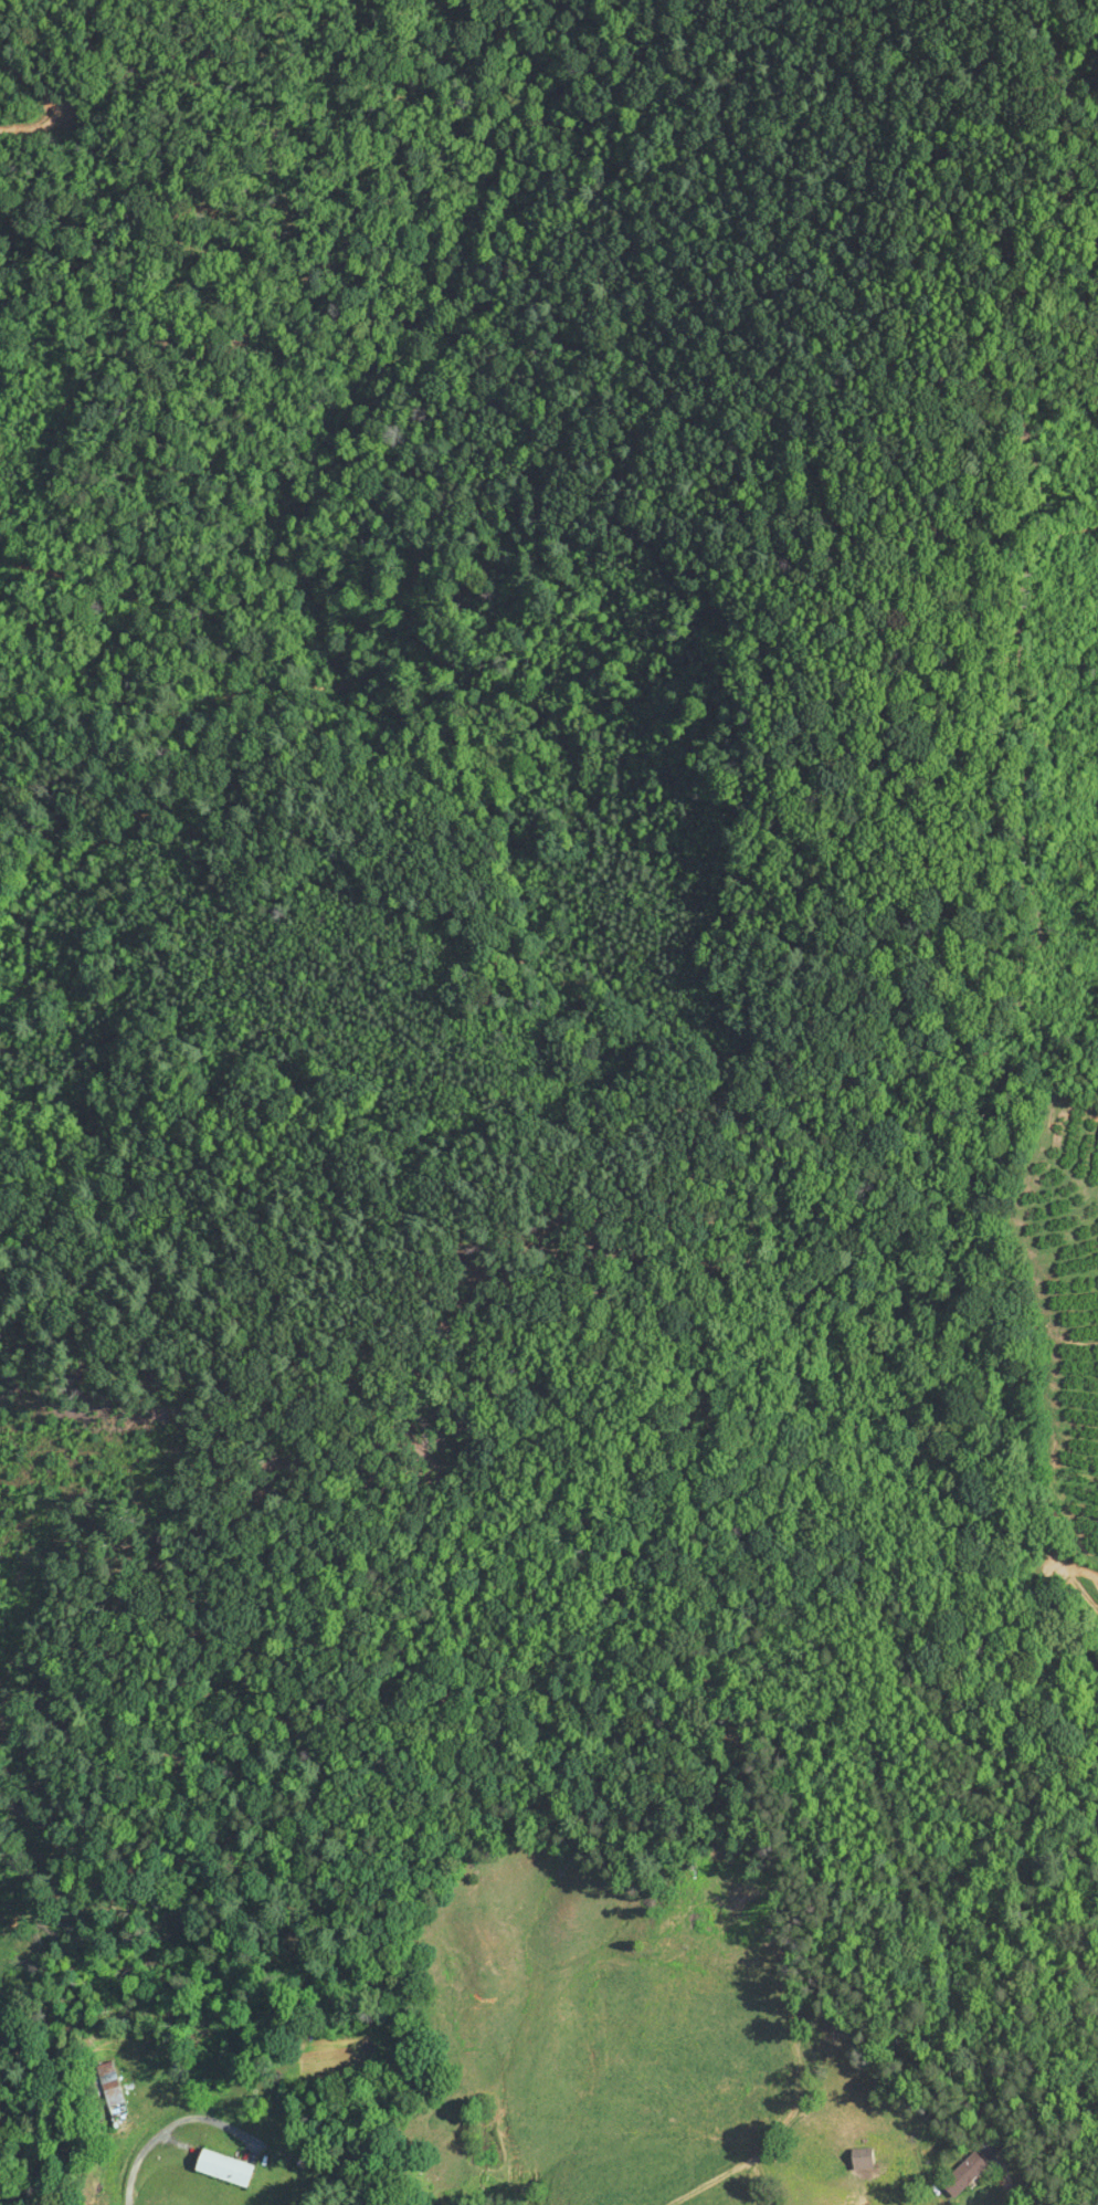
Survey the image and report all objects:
building: (108, 2093)
building: (858, 2157)
road: (134, 2163)
building: (968, 2165)
building: (220, 2166)
road: (1007, 2185)

